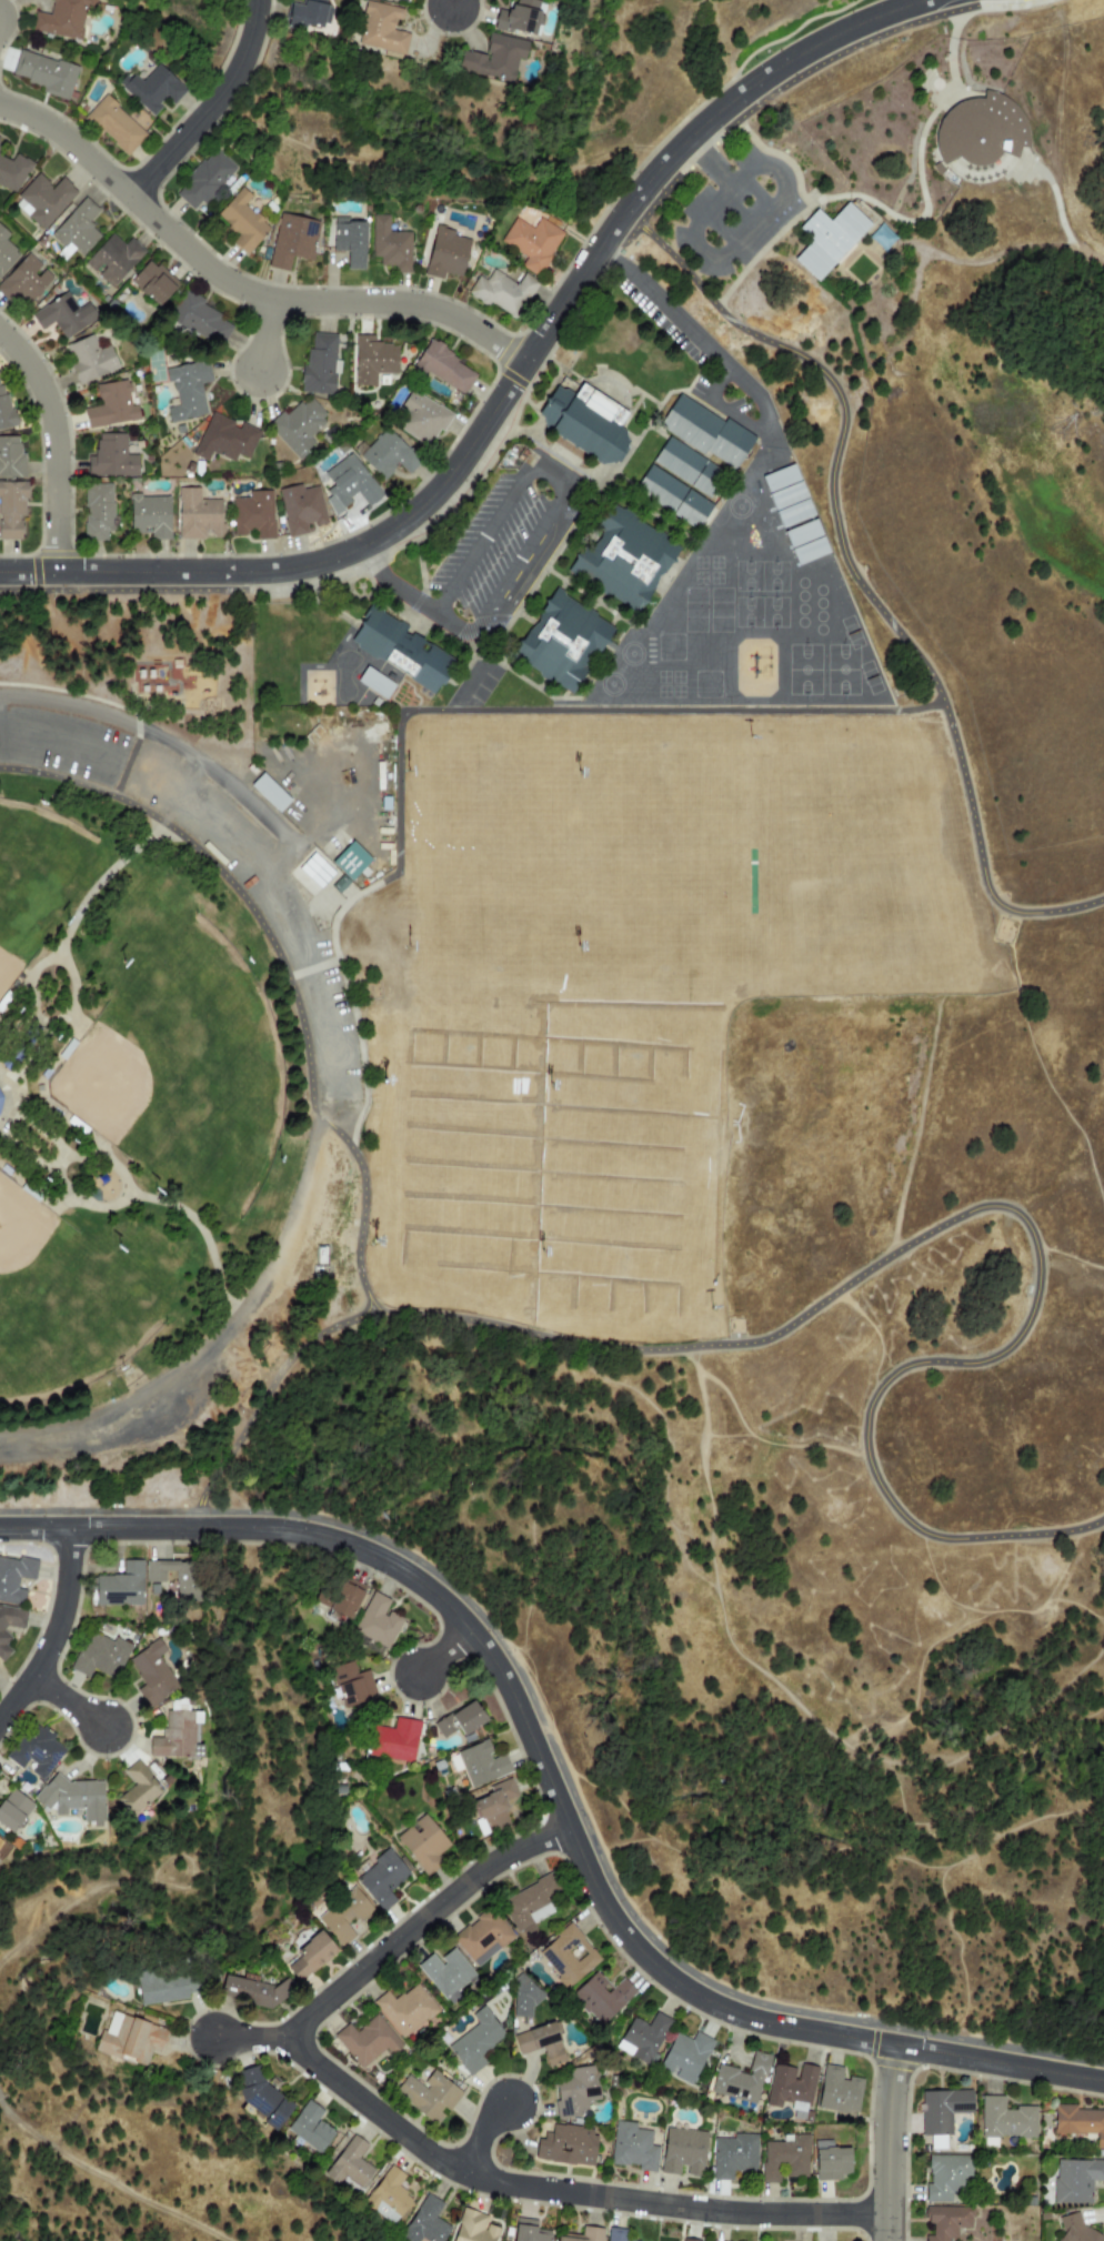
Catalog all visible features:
building: (403, 0)
road: (461, 4)
road: (1011, 6)
building: (305, 13)
building: (520, 17)
building: (61, 18)
building: (381, 28)
road: (952, 38)
road: (181, 42)
building: (493, 58)
flagpole: (944, 60)
building: (42, 72)
road: (755, 82)
road: (786, 84)
building: (151, 89)
road: (214, 107)
road: (951, 108)
building: (140, 120)
building: (114, 125)
building: (981, 131)
road: (774, 154)
road: (411, 169)
building: (937, 169)
building: (12, 172)
road: (739, 175)
building: (203, 180)
road: (963, 181)
building: (42, 200)
road: (803, 203)
road: (1058, 210)
road: (924, 213)
building: (241, 221)
building: (76, 230)
building: (883, 238)
building: (830, 239)
building: (350, 241)
building: (292, 242)
building: (532, 243)
building: (390, 245)
building: (6, 252)
road: (1086, 252)
building: (445, 254)
road: (710, 254)
building: (113, 260)
road: (610, 261)
road: (982, 262)
road: (836, 273)
road: (917, 275)
building: (23, 282)
building: (153, 283)
road: (240, 287)
street lamp: (411, 288)
road: (572, 288)
building: (502, 293)
street lamp: (238, 308)
building: (61, 316)
building: (199, 319)
road: (264, 335)
road: (709, 351)
building: (89, 360)
building: (372, 360)
building: (319, 365)
building: (444, 369)
building: (187, 391)
building: (111, 405)
building: (3, 408)
road: (726, 411)
building: (420, 419)
building: (591, 419)
building: (298, 428)
building: (711, 431)
building: (225, 440)
road: (53, 442)
building: (385, 454)
building: (111, 458)
building: (11, 459)
road: (455, 465)
building: (692, 466)
building: (349, 484)
road: (564, 490)
building: (676, 496)
building: (787, 496)
building: (11, 510)
building: (301, 510)
building: (97, 512)
building: (198, 515)
building: (253, 515)
building: (150, 516)
street lamp: (339, 535)
building: (805, 542)
street lamp: (172, 553)
building: (628, 557)
road: (307, 566)
road: (28, 573)
road: (151, 573)
road: (855, 575)
road: (393, 586)
road: (131, 591)
building: (565, 641)
building: (404, 649)
building: (374, 683)
road: (583, 713)
road: (64, 746)
road: (198, 762)
road: (119, 783)
building: (269, 793)
building: (349, 861)
parking lot: (210, 863)
building: (315, 871)
park: (31, 872)
road: (294, 875)
road: (292, 911)
road: (314, 969)
road: (290, 978)
road: (27, 989)
road: (354, 1007)
park: (651, 1047)
park: (168, 1066)
road: (6, 1076)
building: (0, 1089)
road: (6, 1118)
road: (60, 1147)
road: (1008, 1208)
road: (203, 1236)
park: (61, 1304)
road: (215, 1344)
road: (272, 1383)
road: (101, 1513)
road: (33, 1528)
building: (185, 1577)
building: (13, 1578)
building: (120, 1586)
building: (344, 1600)
building: (377, 1621)
building: (10, 1624)
road: (56, 1630)
road: (442, 1651)
building: (100, 1656)
building: (151, 1674)
building: (351, 1685)
road: (67, 1702)
building: (461, 1720)
road: (523, 1721)
building: (177, 1736)
building: (393, 1740)
road: (554, 1748)
building: (36, 1750)
building: (481, 1763)
building: (137, 1789)
building: (73, 1798)
building: (494, 1807)
building: (13, 1810)
road: (260, 1836)
building: (0, 1841)
building: (422, 1843)
building: (381, 1879)
building: (529, 1906)
building: (343, 1916)
road: (421, 1921)
building: (482, 1937)
building: (568, 1956)
building: (310, 1957)
building: (445, 1972)
building: (161, 1987)
building: (251, 1992)
building: (524, 1997)
building: (601, 1997)
building: (405, 2009)
building: (644, 2036)
building: (129, 2039)
road: (254, 2039)
building: (367, 2040)
building: (475, 2041)
building: (541, 2043)
road: (990, 2046)
building: (684, 2057)
road: (1001, 2063)
building: (741, 2080)
building: (790, 2087)
building: (575, 2091)
building: (837, 2091)
building: (428, 2096)
building: (262, 2098)
building: (942, 2109)
building: (1005, 2120)
building: (1078, 2122)
street lamp: (865, 2124)
building: (310, 2128)
road: (480, 2136)
building: (936, 2142)
road: (886, 2143)
building: (566, 2145)
building: (632, 2147)
building: (682, 2152)
building: (733, 2155)
building: (784, 2159)
building: (830, 2161)
building: (350, 2163)
building: (946, 2178)
building: (1075, 2180)
road: (103, 2181)
road: (565, 2192)
building: (388, 2197)
building: (946, 2221)
building: (425, 2222)
building: (473, 2228)
building: (528, 2231)
building: (1075, 2231)
building: (613, 2234)
building: (582, 2235)
building: (508, 2240)
building: (690, 2240)

